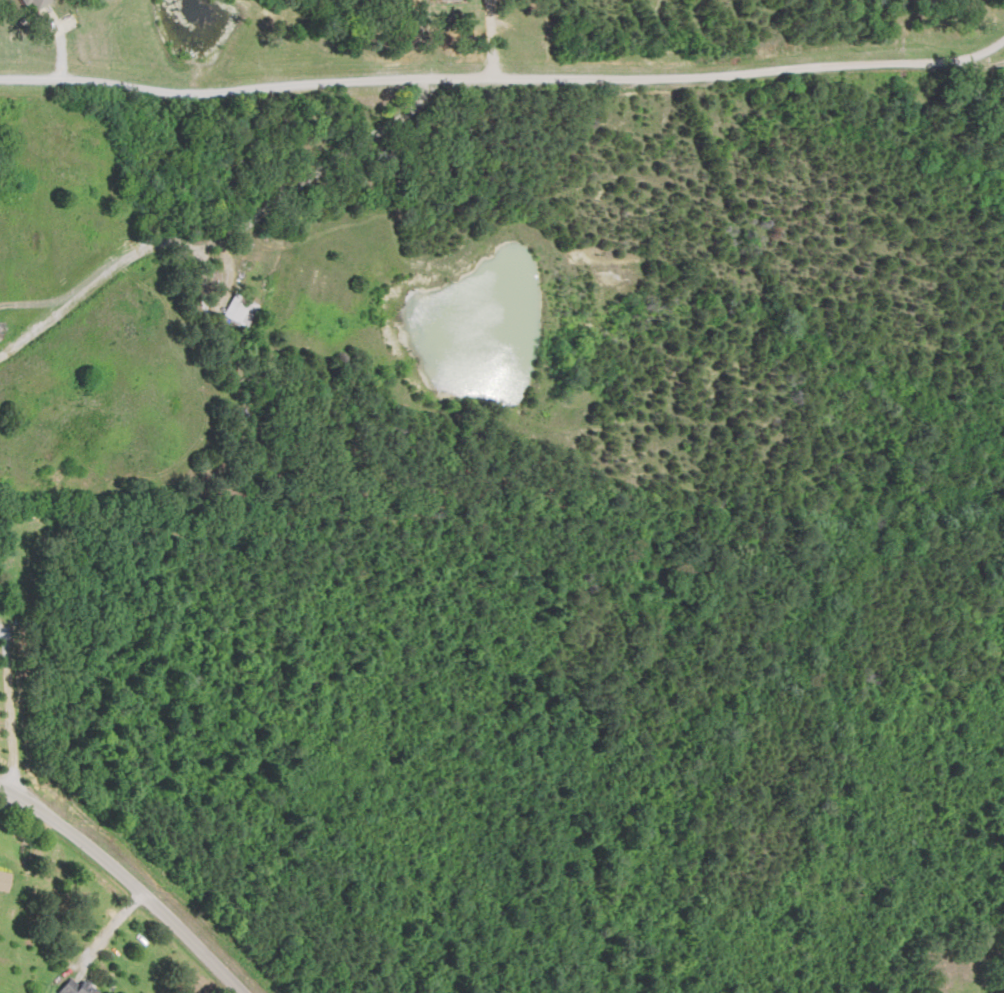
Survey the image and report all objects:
road: (495, 42)
road: (503, 84)
road: (112, 267)
building: (243, 310)
road: (136, 874)
building: (6, 881)
building: (74, 987)

